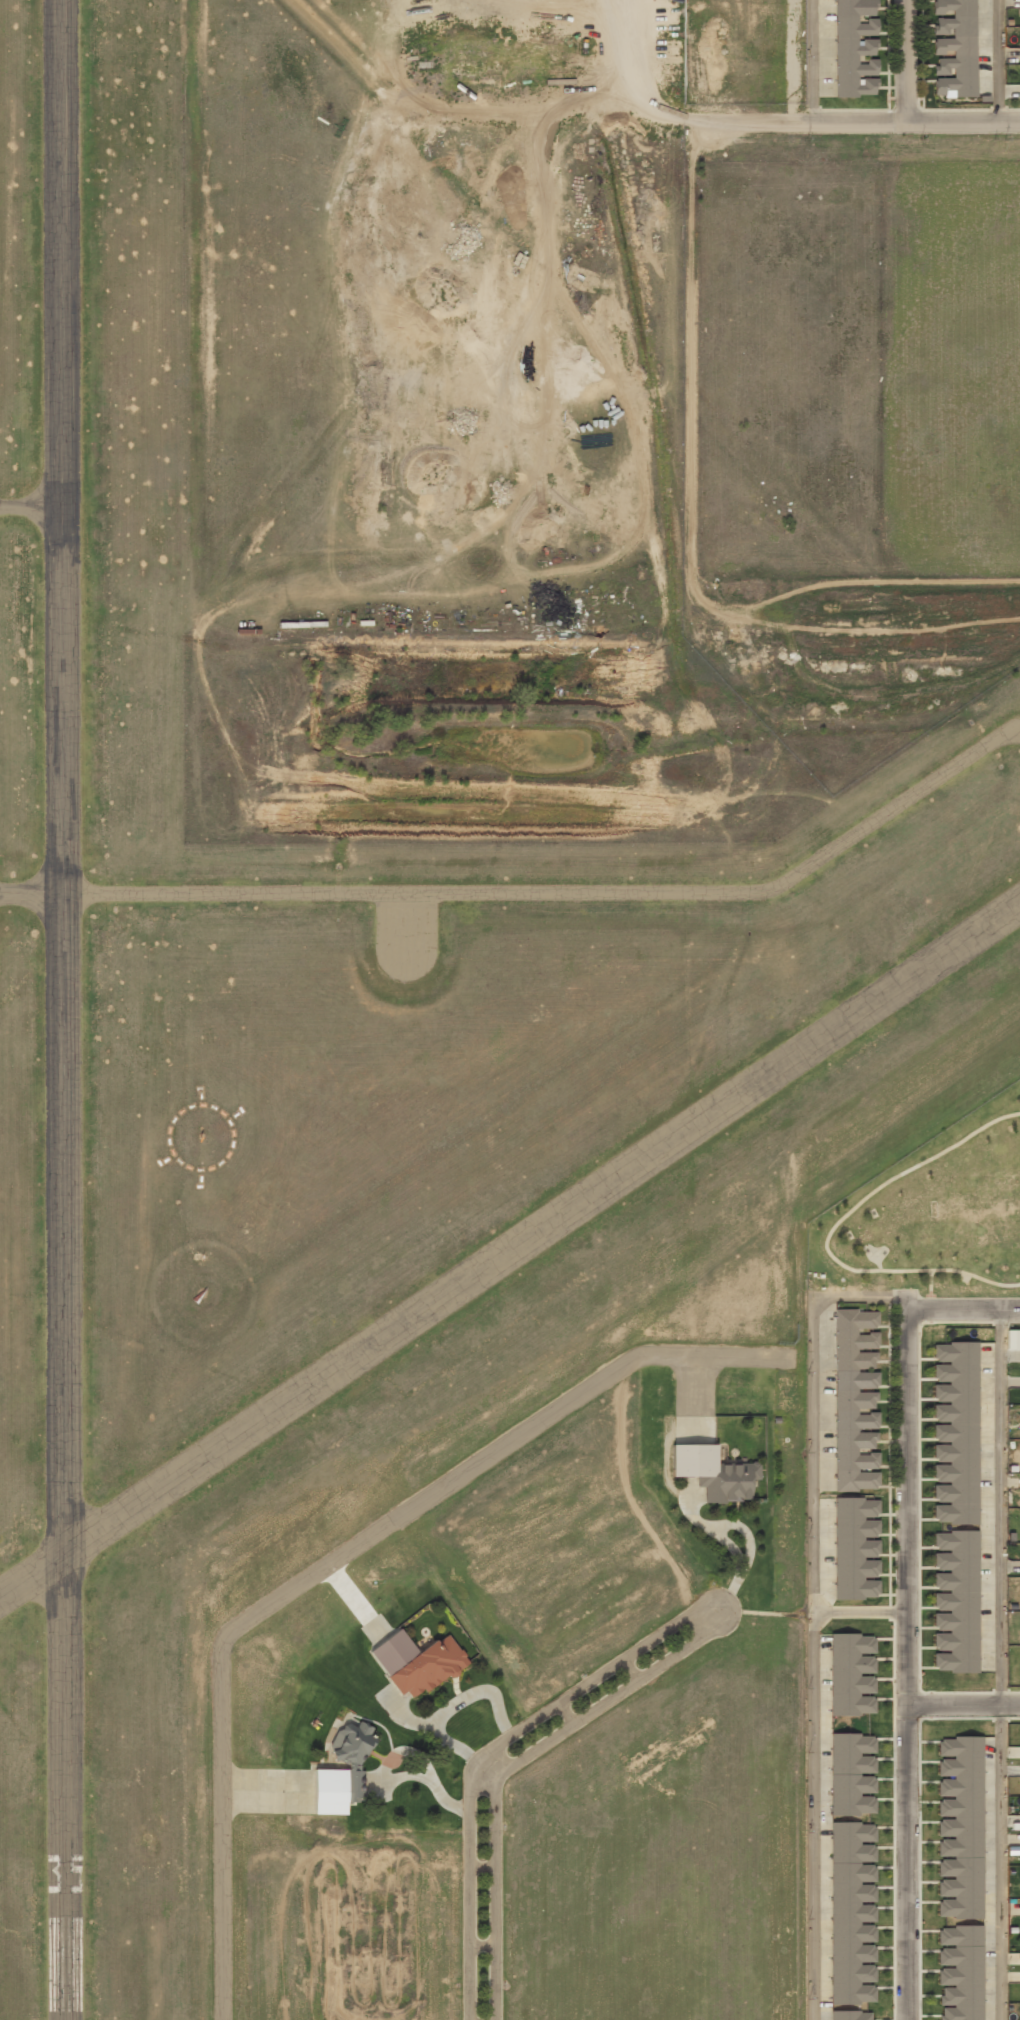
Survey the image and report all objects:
building: (856, 48)
building: (954, 49)
building: (1019, 57)
road: (811, 58)
road: (901, 59)
road: (1000, 59)
road: (915, 118)
airport taxiway: (30, 508)
airport taxiway: (534, 893)
airport runway: (62, 1009)
airport: (411, 1041)
airport runway: (510, 1249)
road: (966, 1309)
building: (857, 1399)
building: (955, 1433)
building: (714, 1472)
building: (857, 1547)
airport taxiway: (301, 1583)
building: (955, 1601)
road: (702, 1613)
building: (417, 1662)
road: (913, 1664)
road: (1001, 1664)
building: (853, 1674)
road: (966, 1708)
building: (342, 1770)
building: (853, 1774)
building: (960, 1828)
building: (854, 1912)
building: (960, 1971)
building: (852, 2015)

